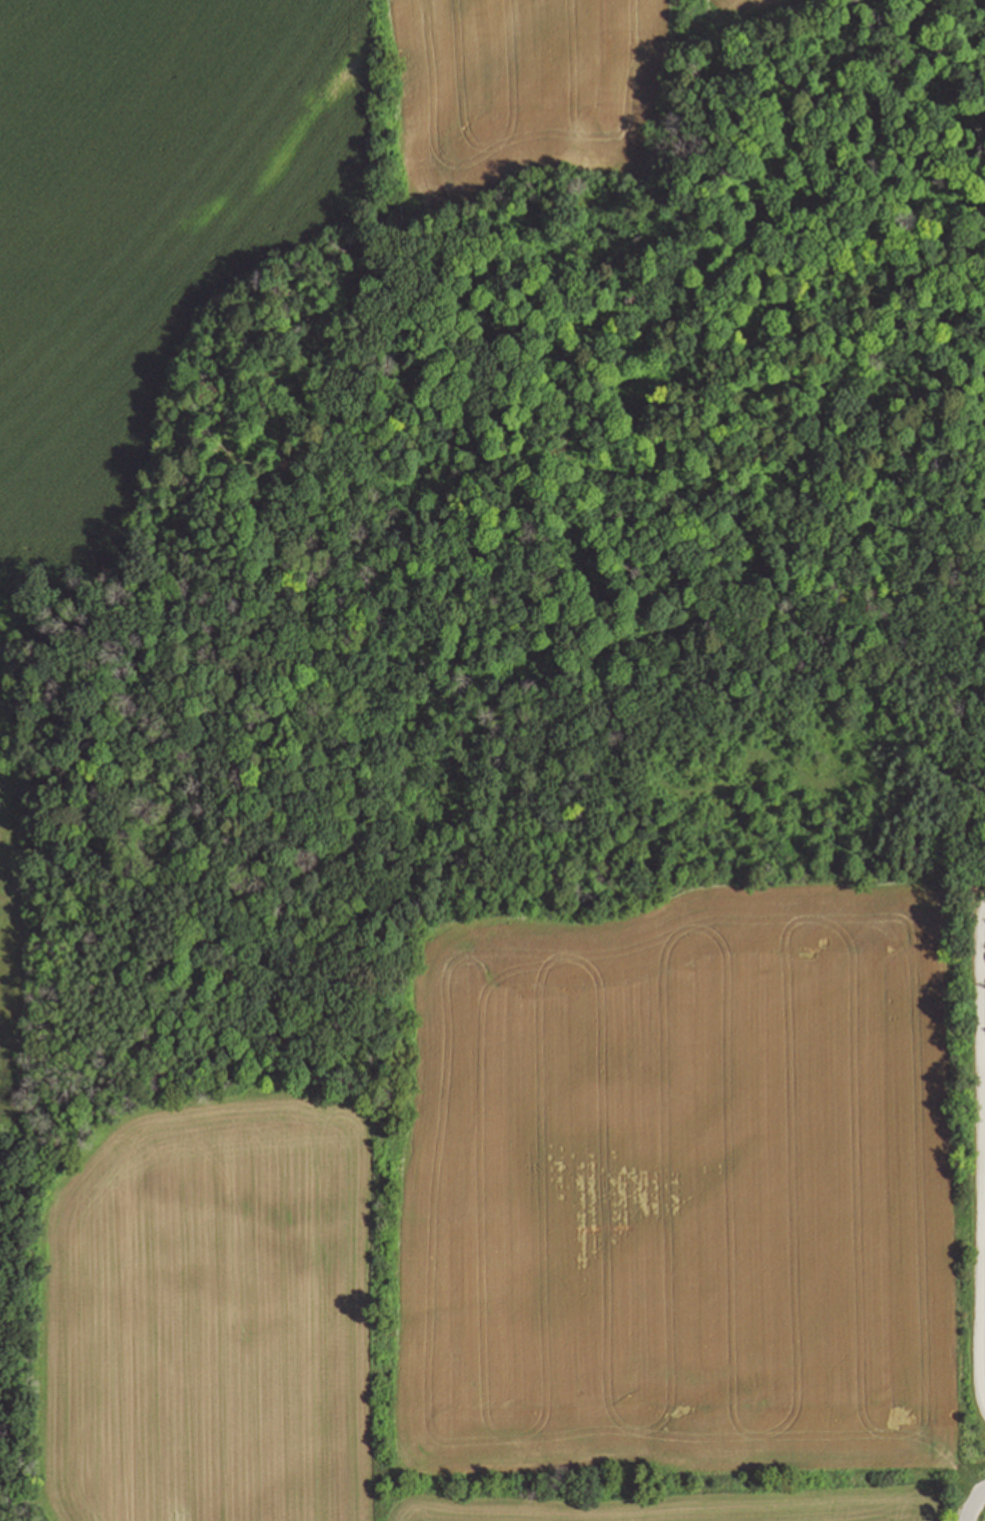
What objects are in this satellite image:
road: (982, 1157)
road: (973, 1503)

